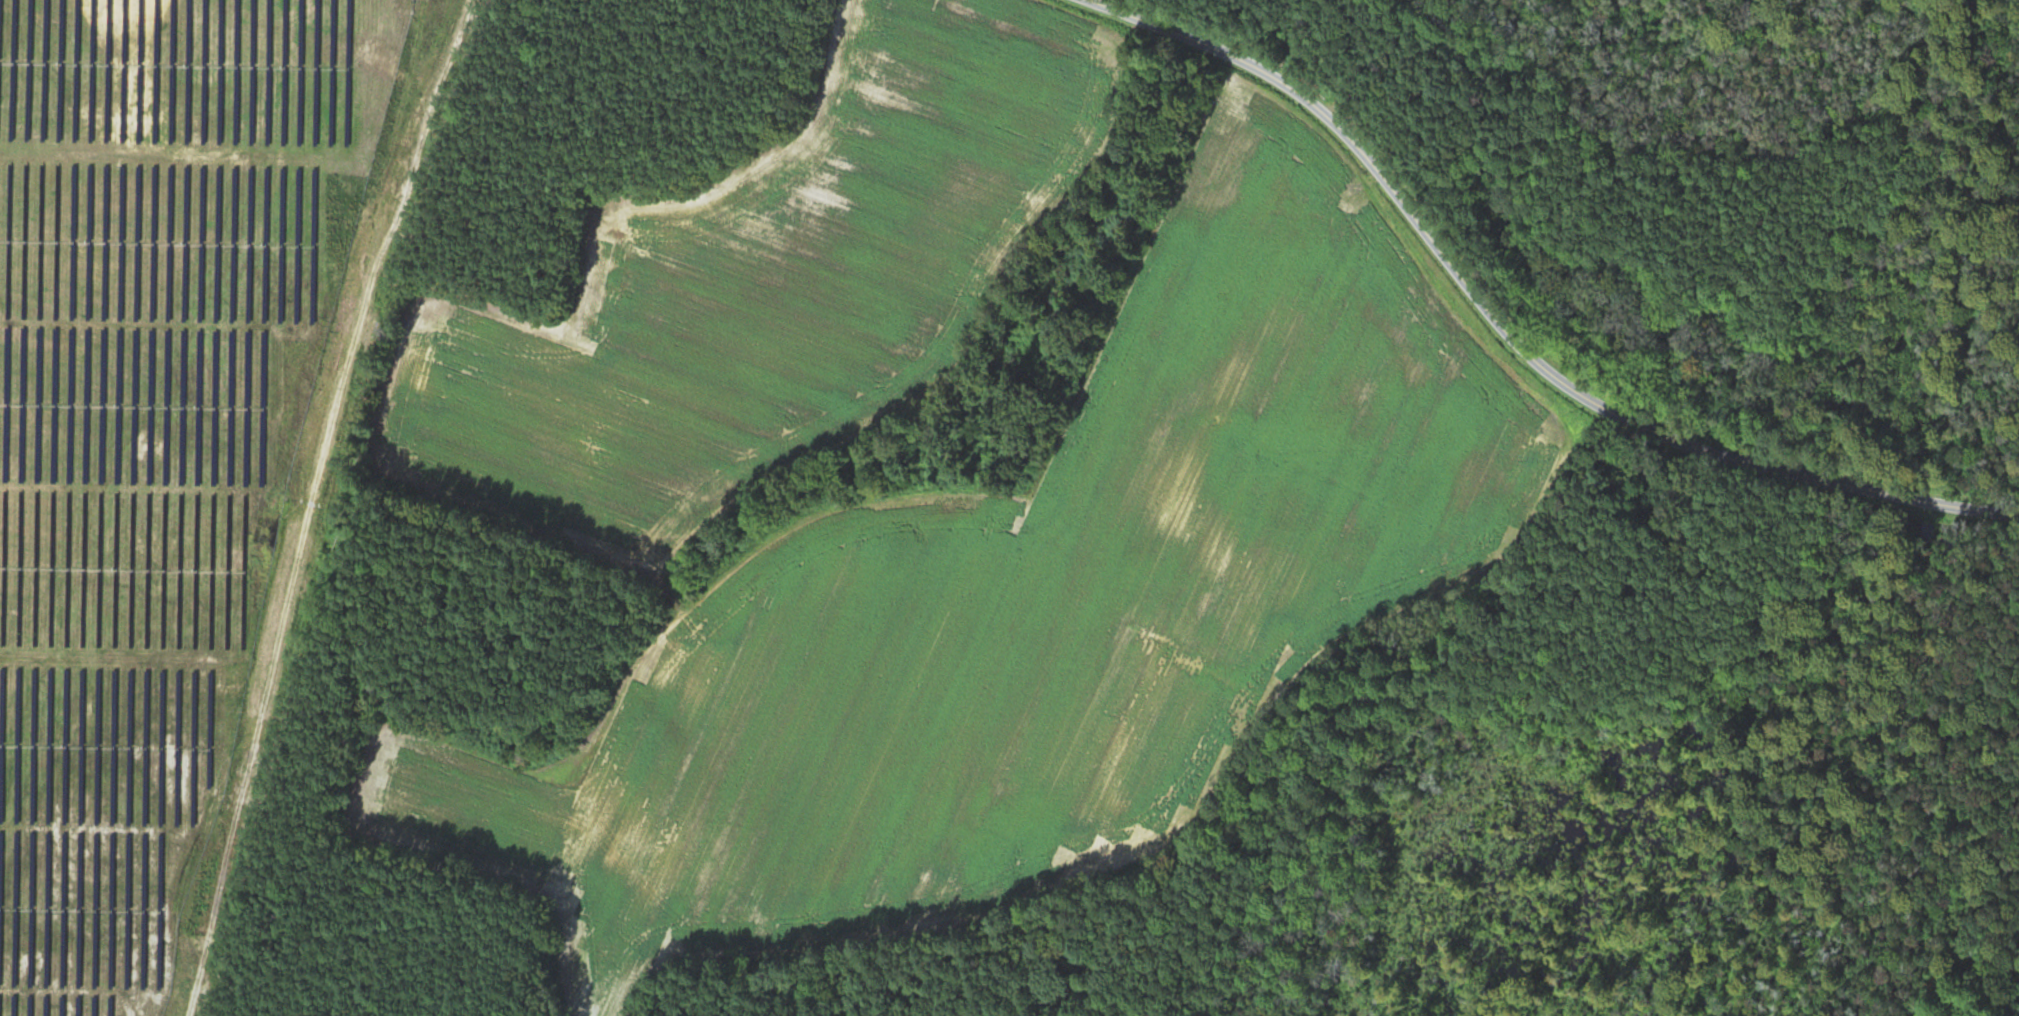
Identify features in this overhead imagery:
road: (1508, 335)

